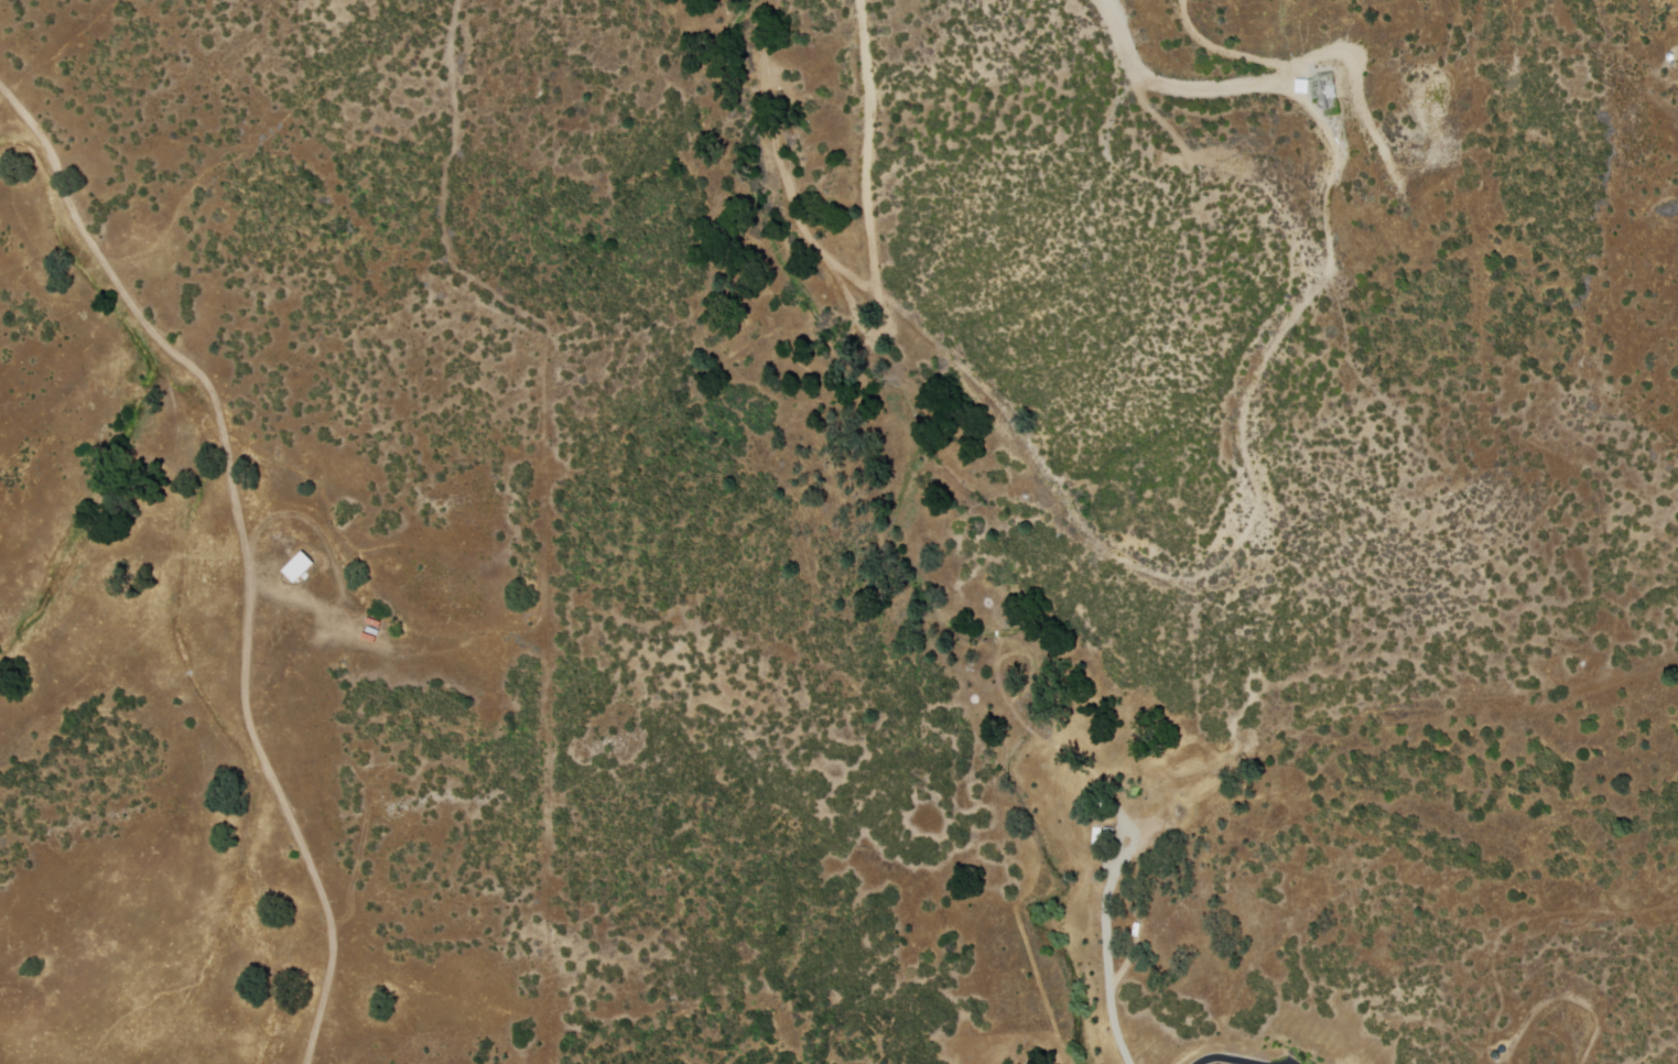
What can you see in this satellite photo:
building: (1302, 77)
building: (1331, 96)
road: (245, 550)
building: (299, 569)
building: (1111, 833)
building: (1097, 837)
building: (1136, 929)
road: (1228, 1057)

